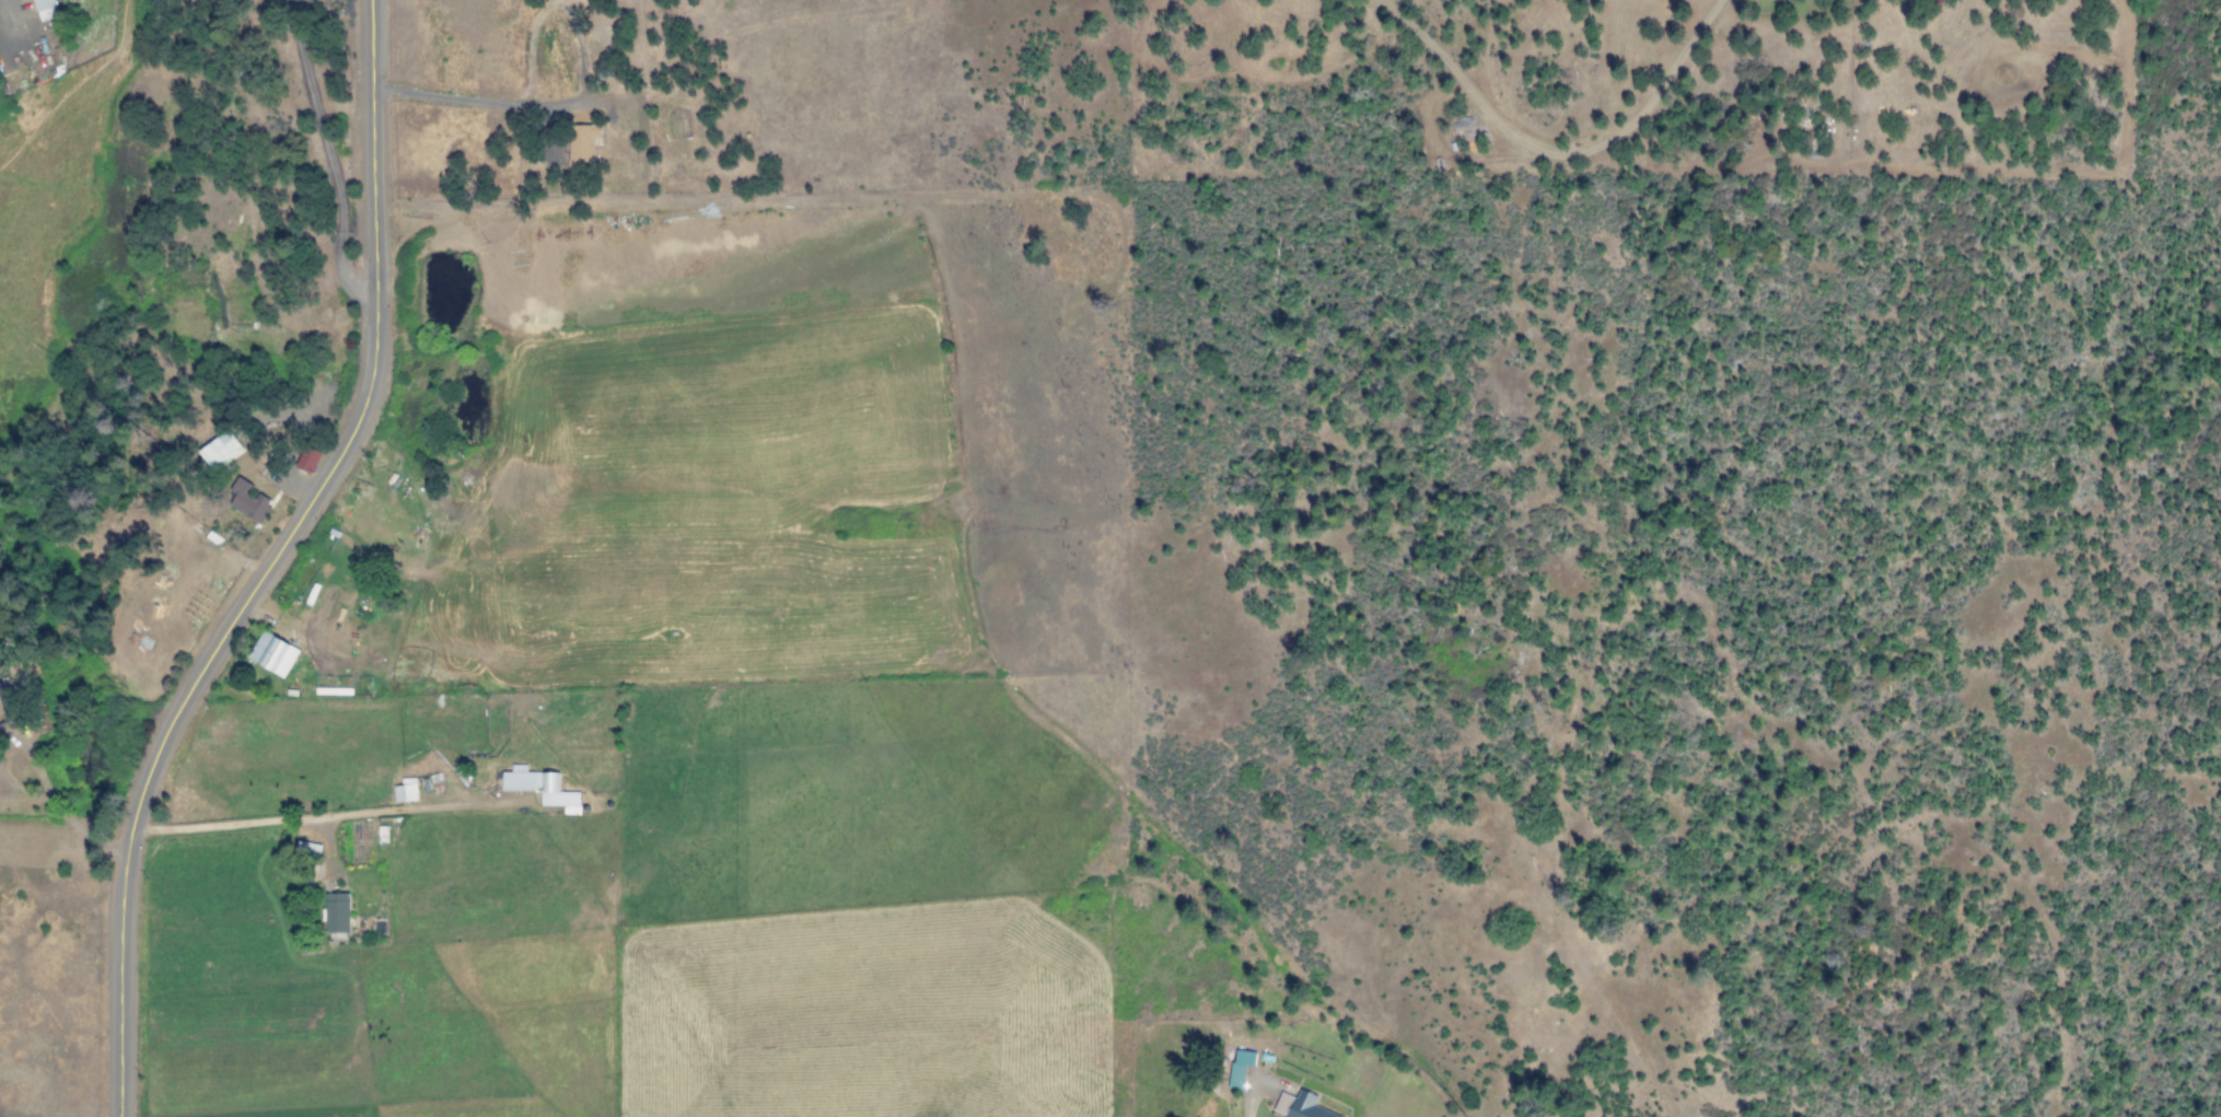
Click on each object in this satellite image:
building: (48, 10)
building: (585, 142)
road: (328, 154)
building: (312, 458)
building: (248, 499)
road: (269, 562)
building: (540, 787)
building: (406, 790)
building: (336, 911)
building: (1239, 1067)
road: (1252, 1095)

